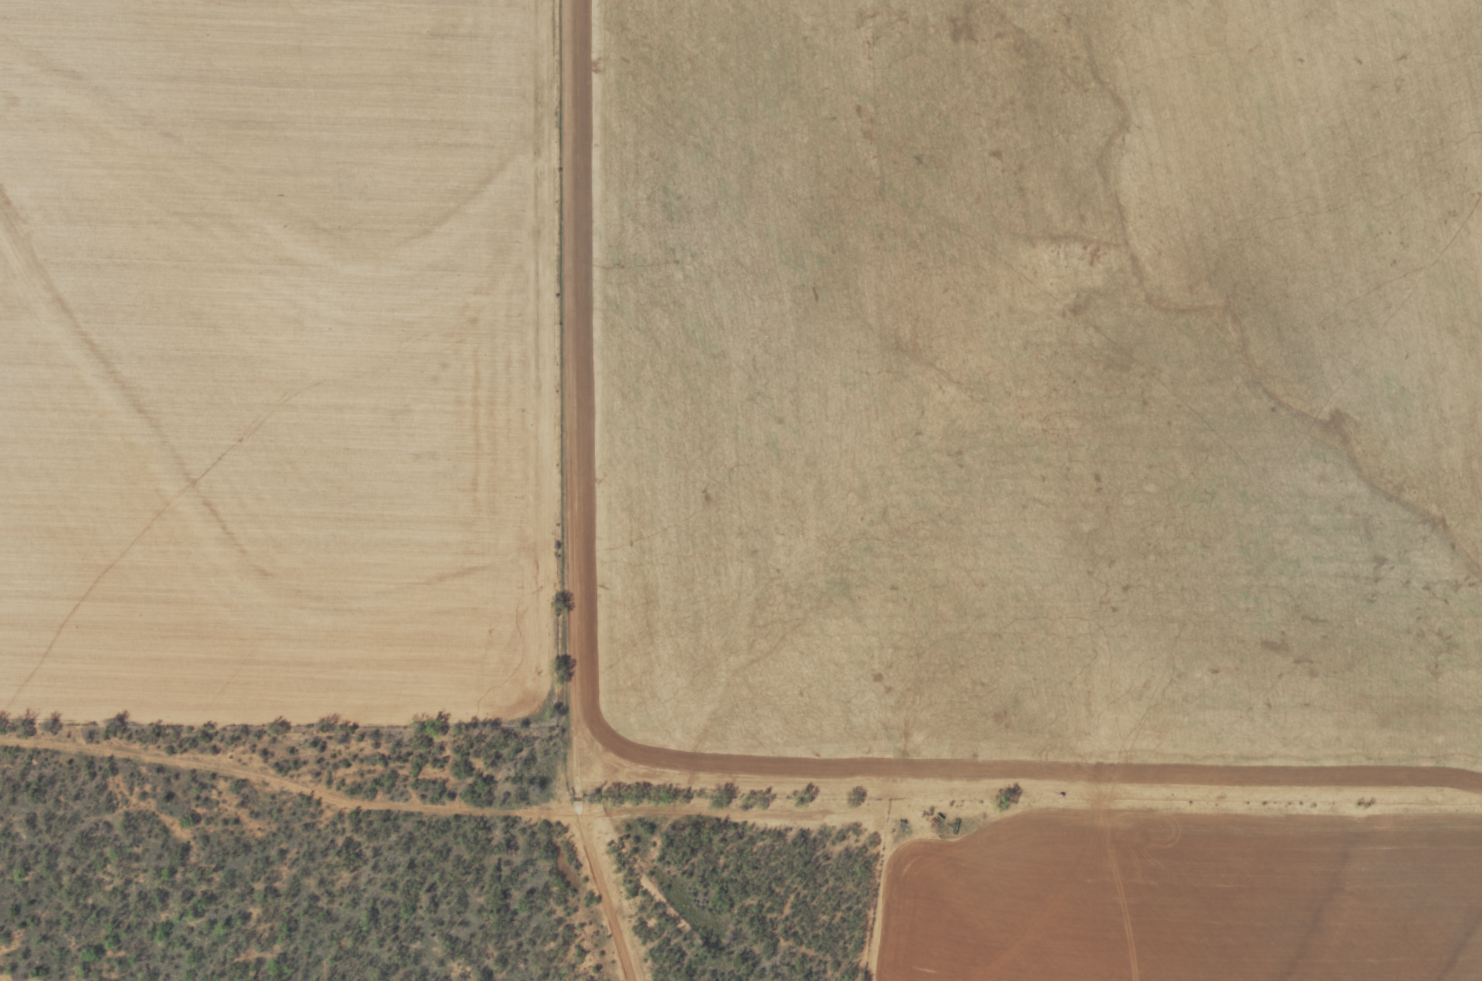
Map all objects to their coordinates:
road: (575, 284)
road: (579, 650)

